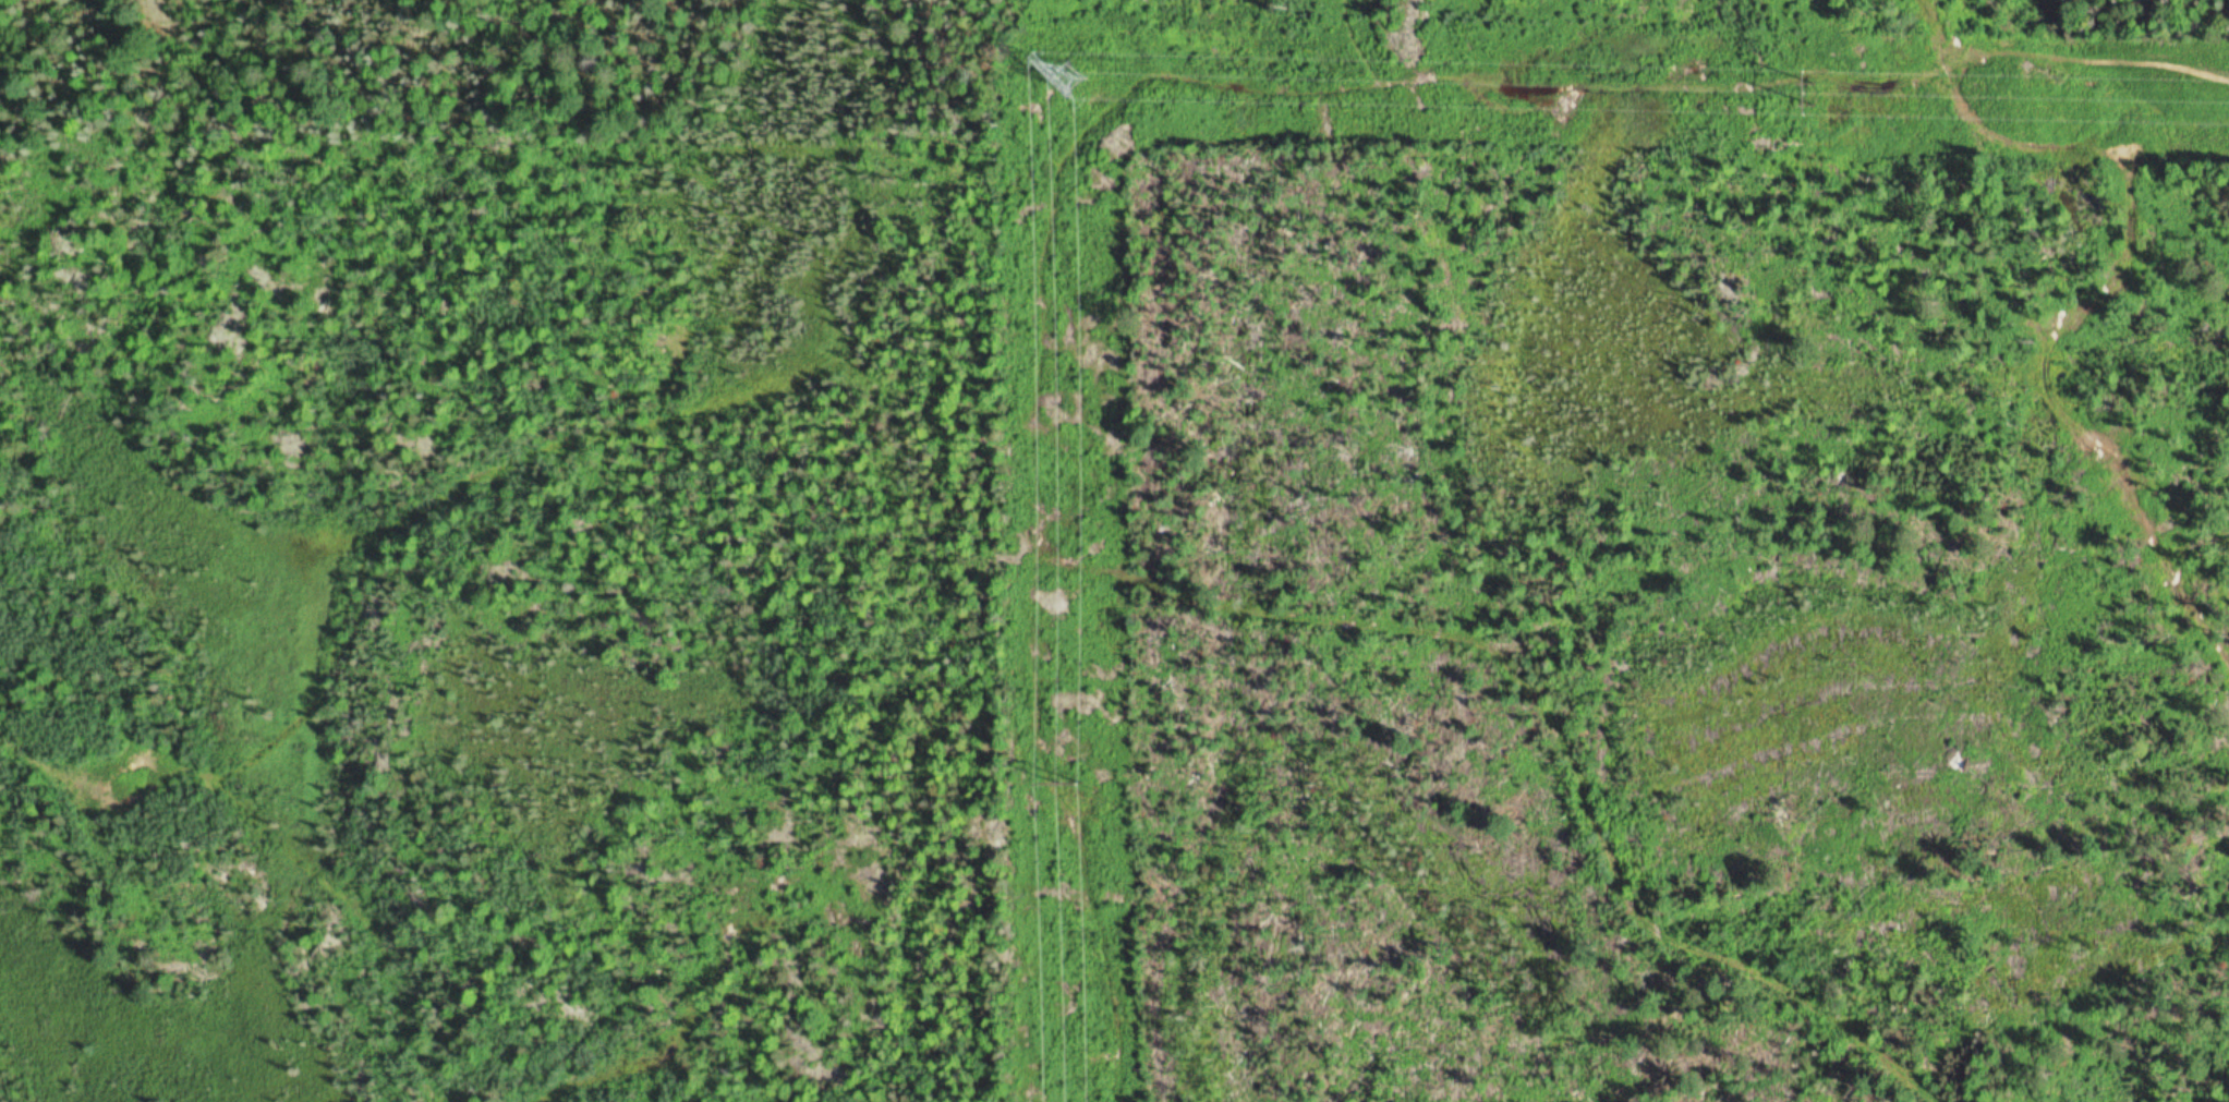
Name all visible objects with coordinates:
power tower: (1066, 75)
power tower: (1814, 88)
power tower: (1071, 782)

